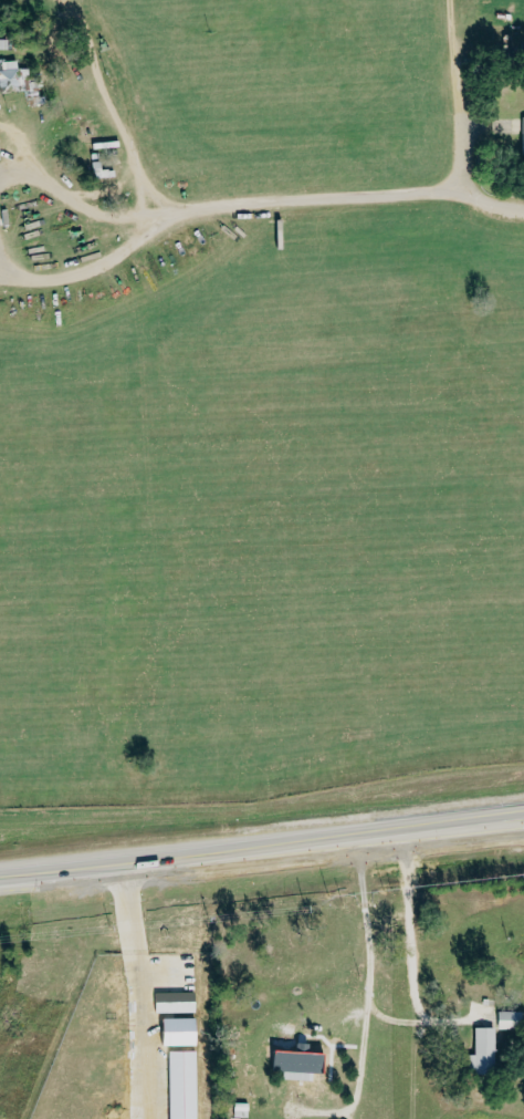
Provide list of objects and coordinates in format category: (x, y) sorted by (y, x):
building: (21, 82)
building: (0, 92)
road: (23, 143)
building: (0, 153)
road: (231, 207)
road: (172, 209)
road: (8, 277)
road: (262, 854)
road: (136, 952)
road: (364, 1001)
road: (417, 1016)
building: (512, 1019)
building: (181, 1033)
building: (486, 1053)
building: (308, 1071)
building: (185, 1085)

